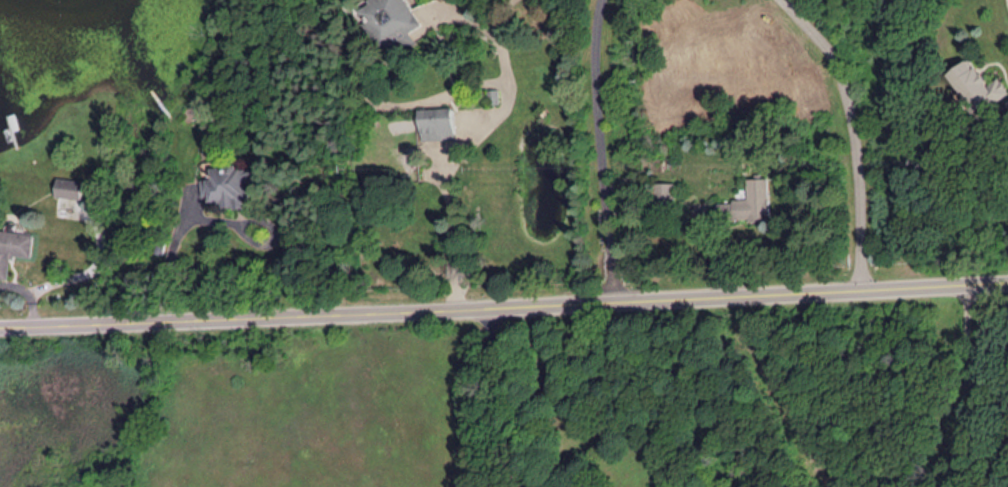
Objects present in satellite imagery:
building: (392, 18)
building: (976, 84)
building: (437, 122)
road: (852, 133)
road: (601, 150)
building: (230, 186)
building: (71, 187)
building: (665, 192)
building: (736, 205)
road: (450, 228)
building: (14, 248)
road: (167, 258)
road: (504, 306)
road: (961, 385)
road: (496, 397)

